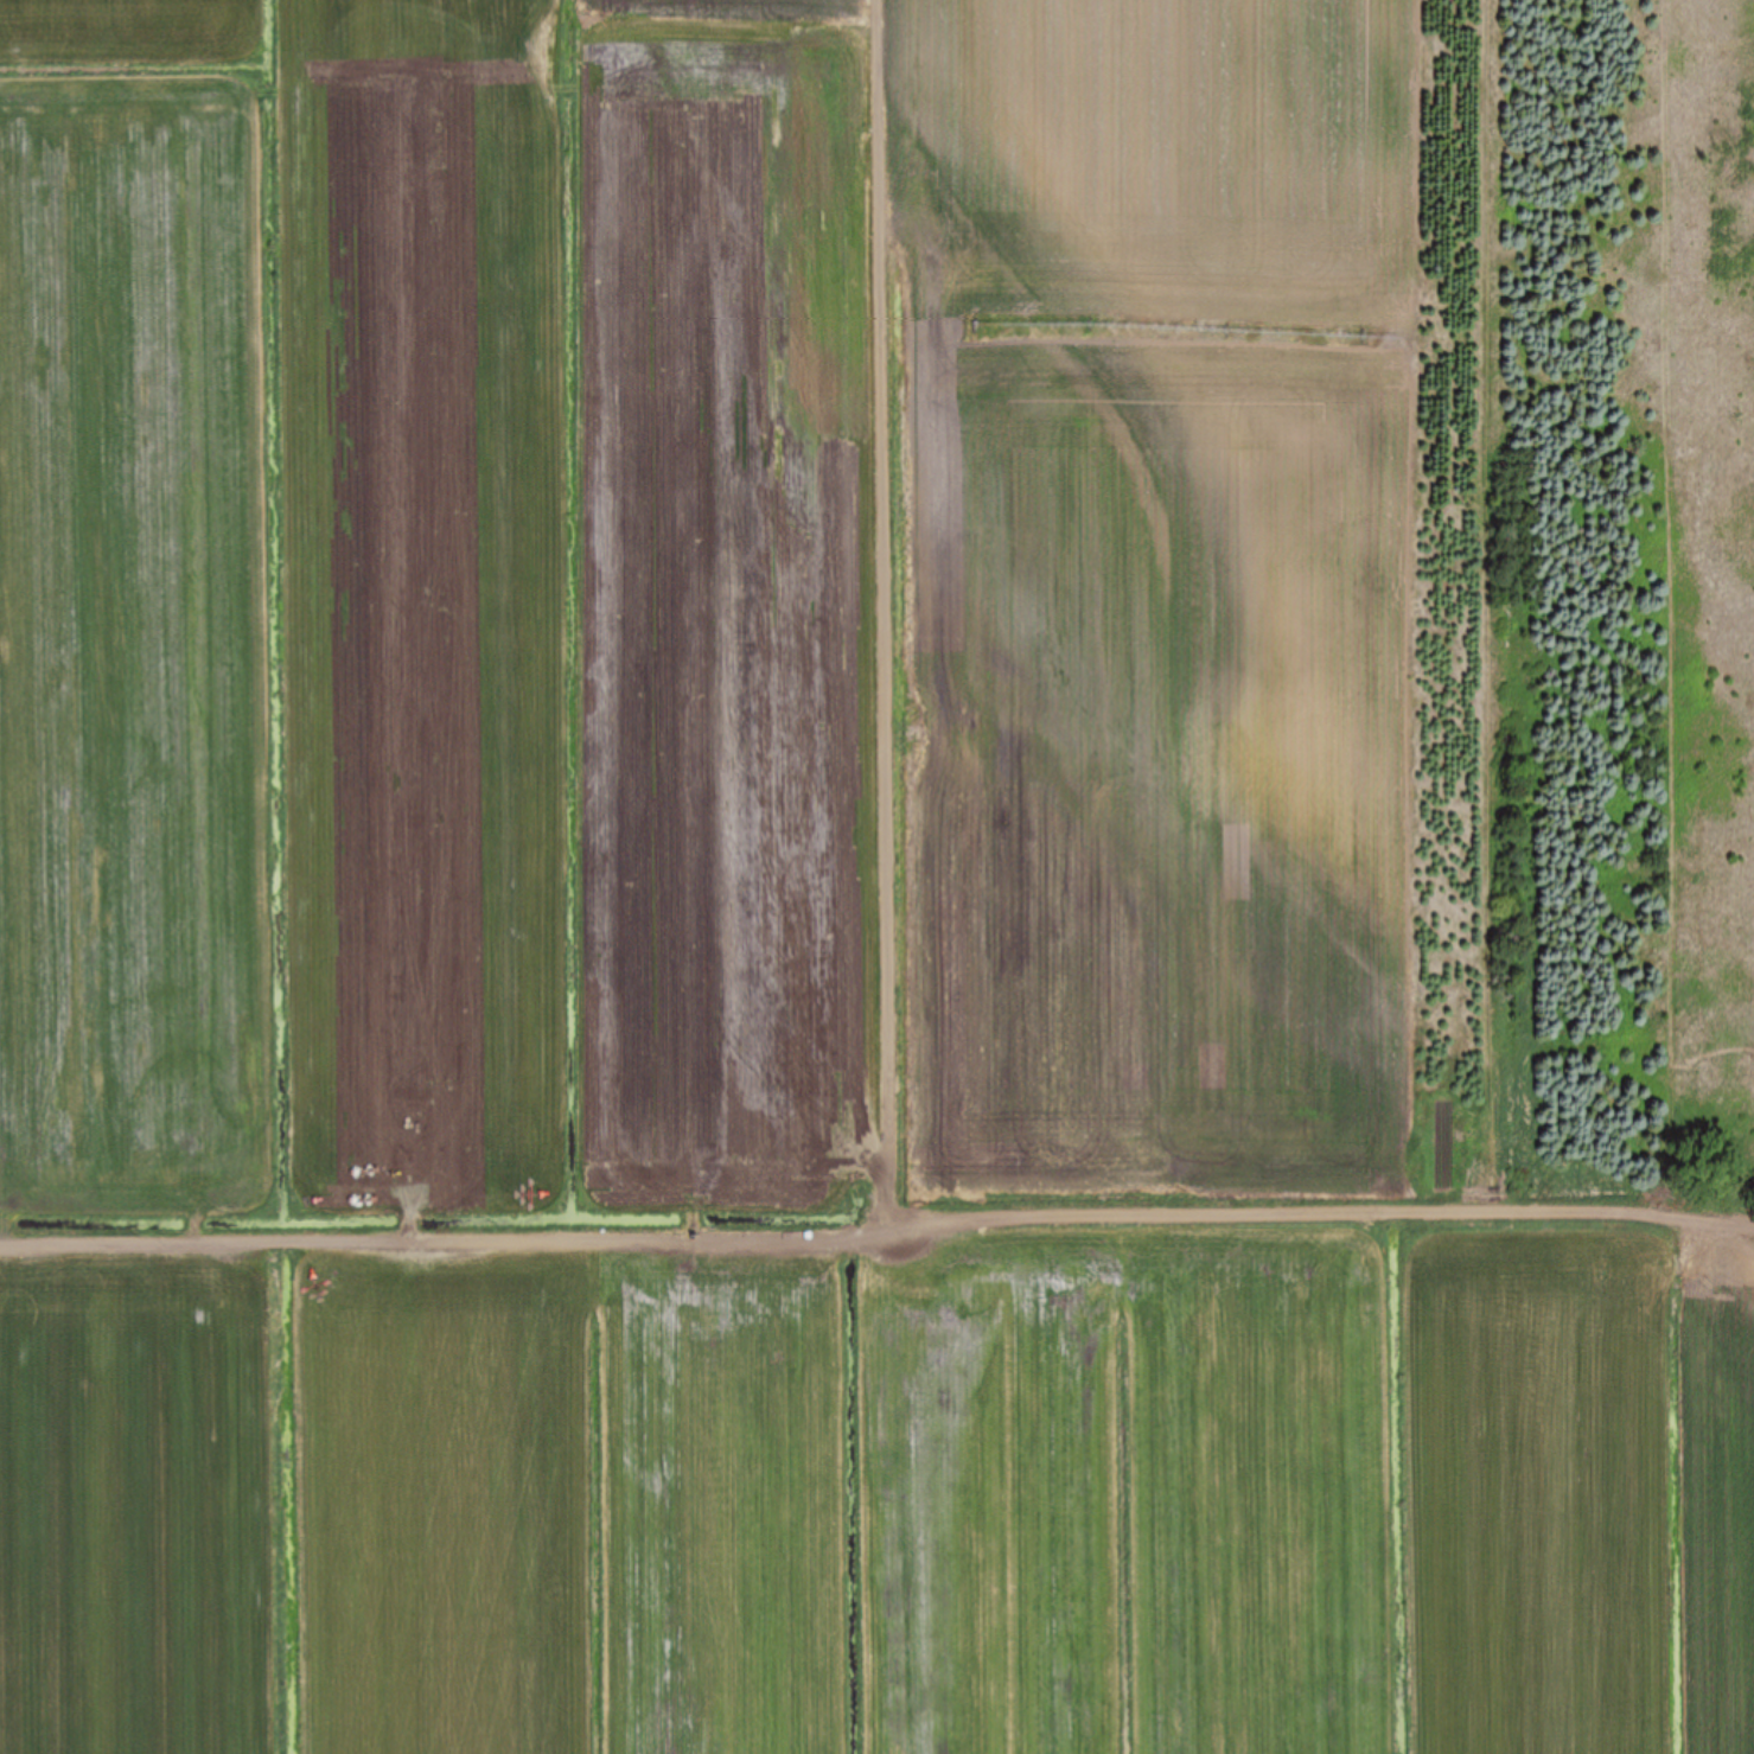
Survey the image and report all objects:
road: (1720, 1216)
road: (426, 1217)

